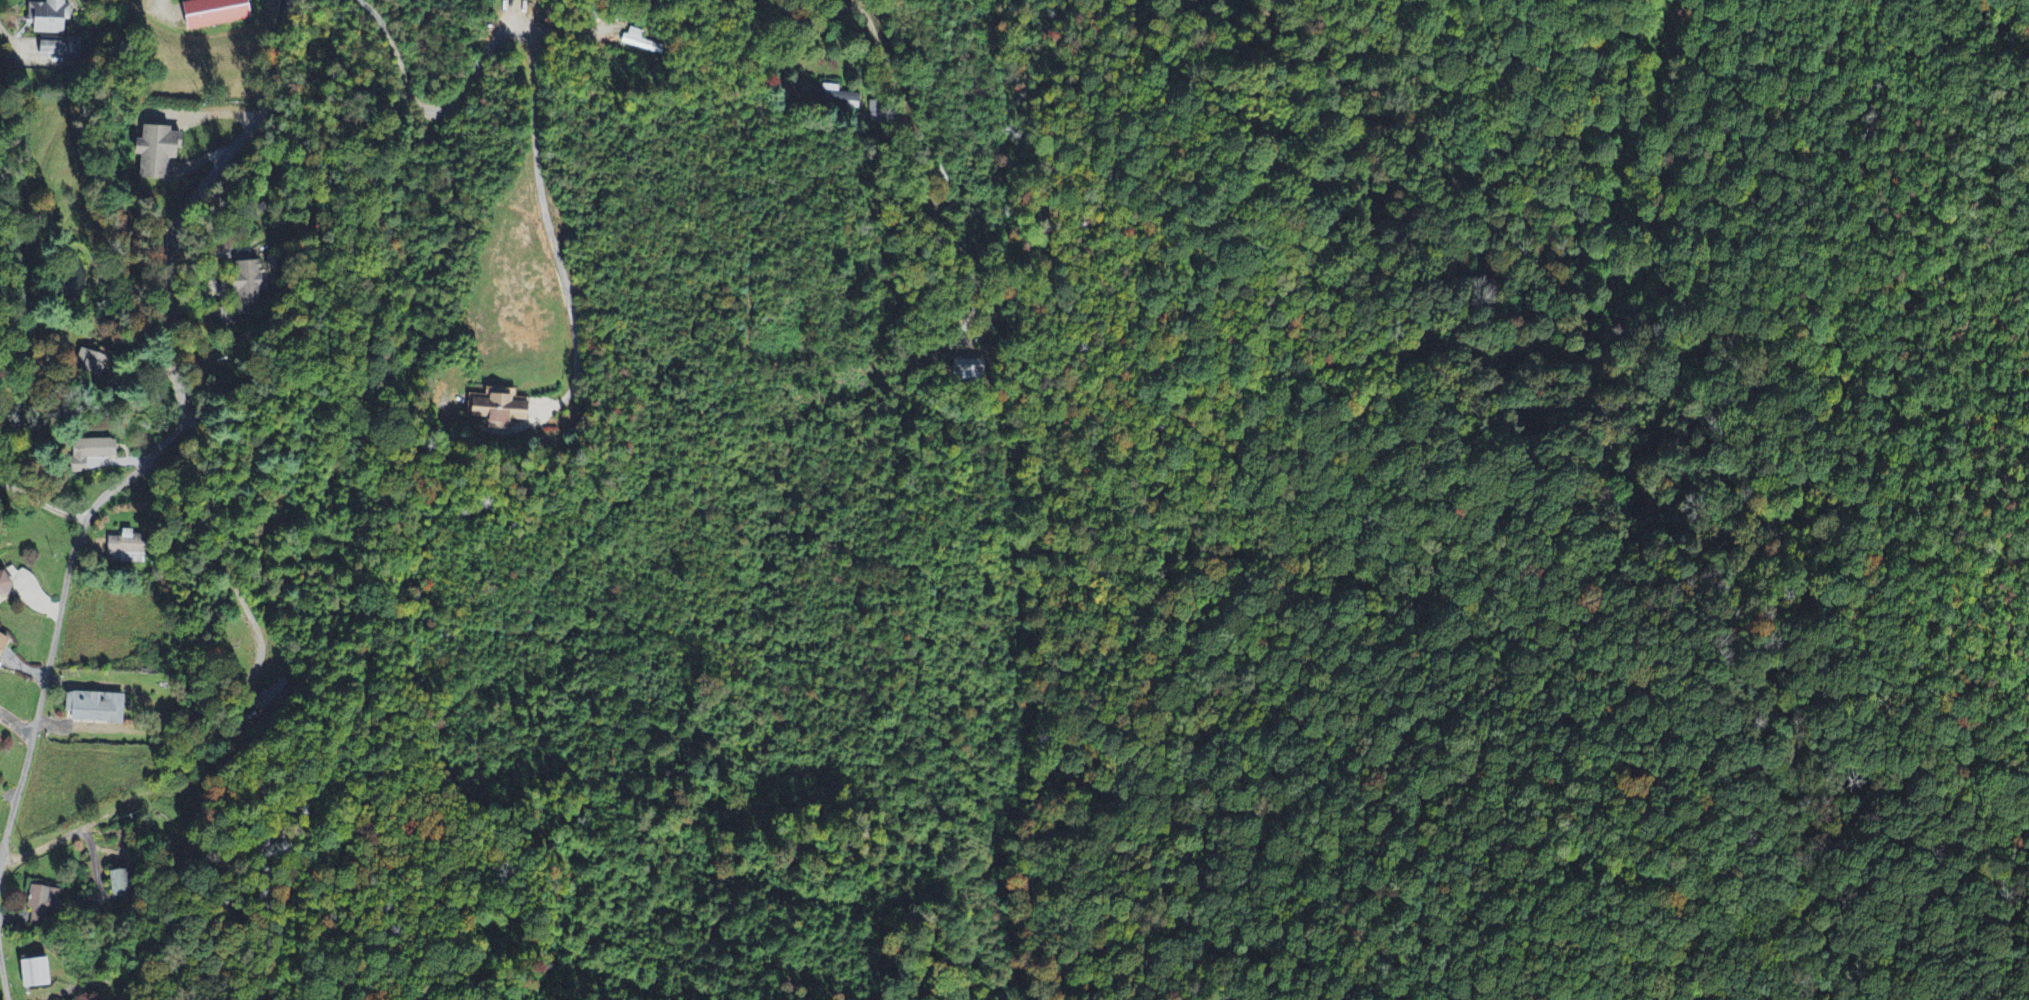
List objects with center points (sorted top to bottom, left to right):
road: (165, 6)
building: (211, 13)
building: (50, 16)
road: (571, 28)
road: (13, 38)
building: (636, 39)
building: (71, 47)
road: (535, 91)
building: (152, 152)
road: (922, 162)
road: (197, 199)
building: (251, 277)
building: (498, 409)
road: (183, 421)
road: (177, 430)
building: (92, 452)
road: (42, 497)
building: (128, 546)
road: (226, 561)
building: (4, 586)
building: (2, 643)
building: (277, 692)
road: (39, 698)
building: (94, 708)
road: (46, 845)
building: (122, 884)
building: (44, 903)
building: (33, 974)

